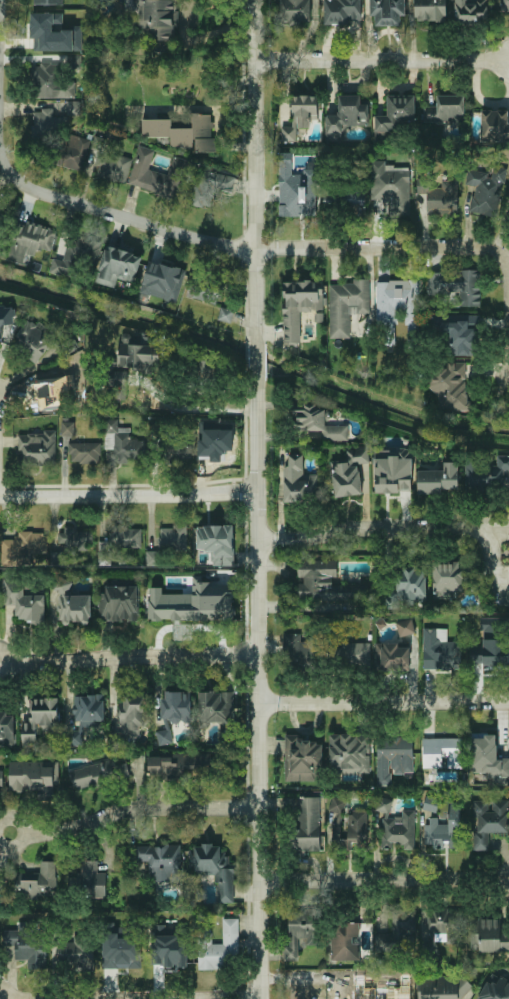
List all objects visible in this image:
building: (48, 2)
building: (505, 5)
building: (430, 9)
building: (295, 11)
building: (342, 11)
building: (387, 11)
building: (470, 11)
building: (157, 22)
building: (55, 32)
road: (0, 50)
building: (73, 61)
road: (382, 61)
building: (45, 80)
building: (446, 109)
building: (396, 112)
building: (301, 114)
building: (346, 115)
building: (44, 123)
building: (494, 125)
building: (183, 133)
building: (73, 151)
building: (110, 162)
road: (255, 173)
building: (157, 174)
building: (210, 186)
building: (391, 186)
building: (295, 188)
building: (486, 190)
building: (346, 196)
building: (440, 196)
building: (30, 240)
road: (246, 246)
building: (76, 254)
building: (117, 265)
building: (163, 281)
building: (456, 286)
building: (204, 289)
building: (347, 304)
building: (398, 304)
building: (299, 305)
building: (226, 314)
building: (7, 315)
building: (459, 333)
building: (42, 341)
road: (256, 363)
building: (127, 364)
building: (72, 366)
building: (199, 376)
building: (451, 386)
building: (55, 393)
road: (189, 408)
building: (319, 423)
building: (67, 428)
building: (123, 443)
building: (37, 448)
building: (177, 448)
building: (85, 452)
building: (393, 471)
building: (349, 472)
building: (488, 475)
building: (438, 478)
building: (298, 480)
road: (128, 494)
road: (493, 530)
road: (366, 531)
building: (172, 536)
building: (75, 539)
building: (118, 542)
building: (217, 542)
building: (22, 547)
road: (492, 563)
building: (449, 578)
building: (325, 582)
building: (412, 583)
building: (23, 600)
building: (71, 602)
building: (192, 602)
building: (120, 603)
building: (405, 627)
building: (439, 650)
road: (71, 652)
building: (299, 652)
building: (351, 654)
building: (492, 654)
road: (129, 656)
building: (392, 656)
road: (258, 689)
road: (121, 690)
road: (383, 702)
building: (176, 705)
building: (214, 707)
building: (133, 712)
building: (86, 715)
building: (41, 720)
building: (7, 728)
building: (164, 736)
building: (442, 752)
building: (349, 753)
building: (393, 757)
building: (488, 757)
building: (302, 758)
building: (164, 766)
building: (98, 774)
building: (1, 777)
building: (34, 777)
building: (431, 803)
road: (132, 808)
building: (488, 821)
building: (306, 823)
building: (348, 824)
building: (395, 825)
building: (445, 829)
building: (161, 861)
building: (214, 868)
building: (91, 879)
road: (384, 880)
building: (37, 882)
building: (2, 884)
building: (399, 926)
building: (445, 926)
building: (300, 931)
building: (489, 936)
building: (345, 941)
building: (27, 944)
building: (168, 946)
building: (219, 946)
building: (120, 949)
building: (75, 952)
road: (310, 974)
building: (443, 986)
building: (495, 988)
building: (339, 993)

